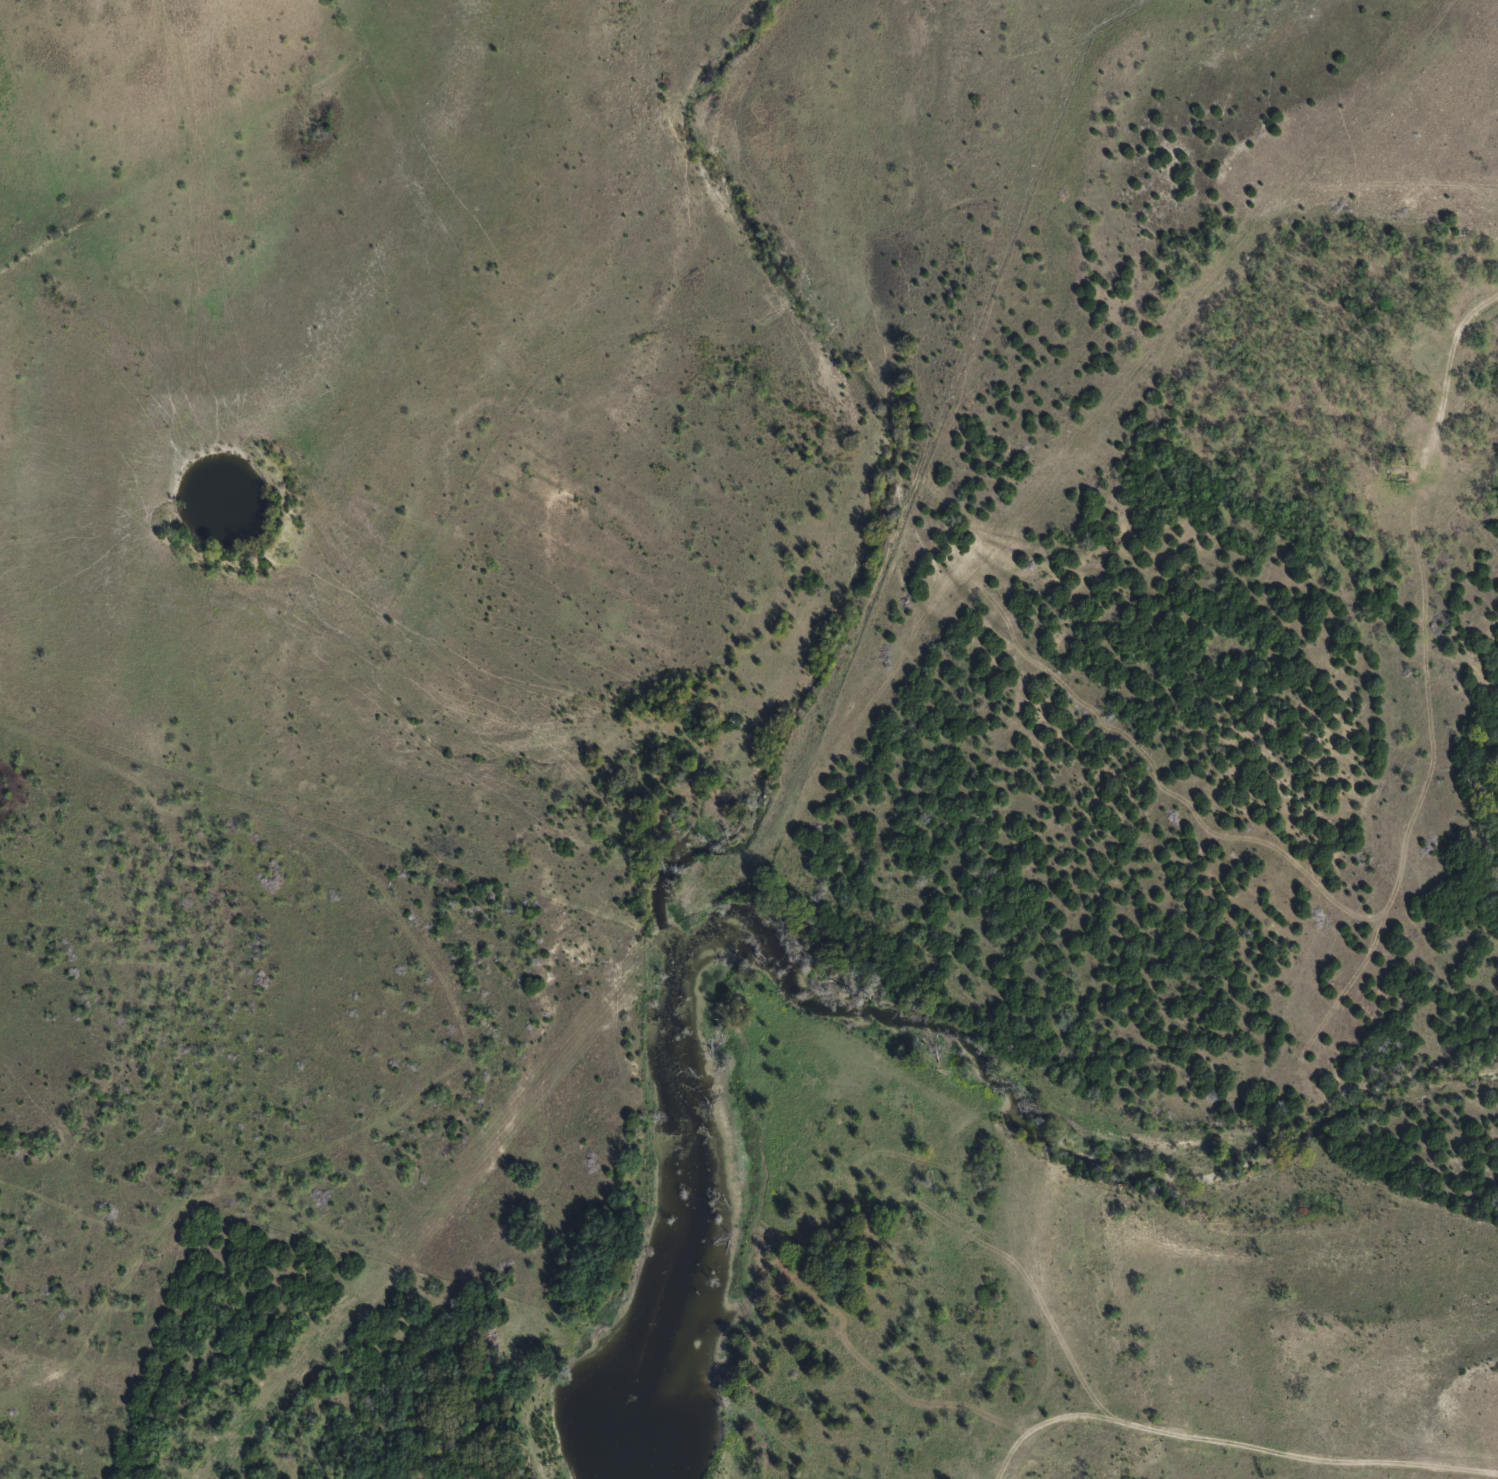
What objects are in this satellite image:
road: (1456, 293)
building: (1400, 461)

